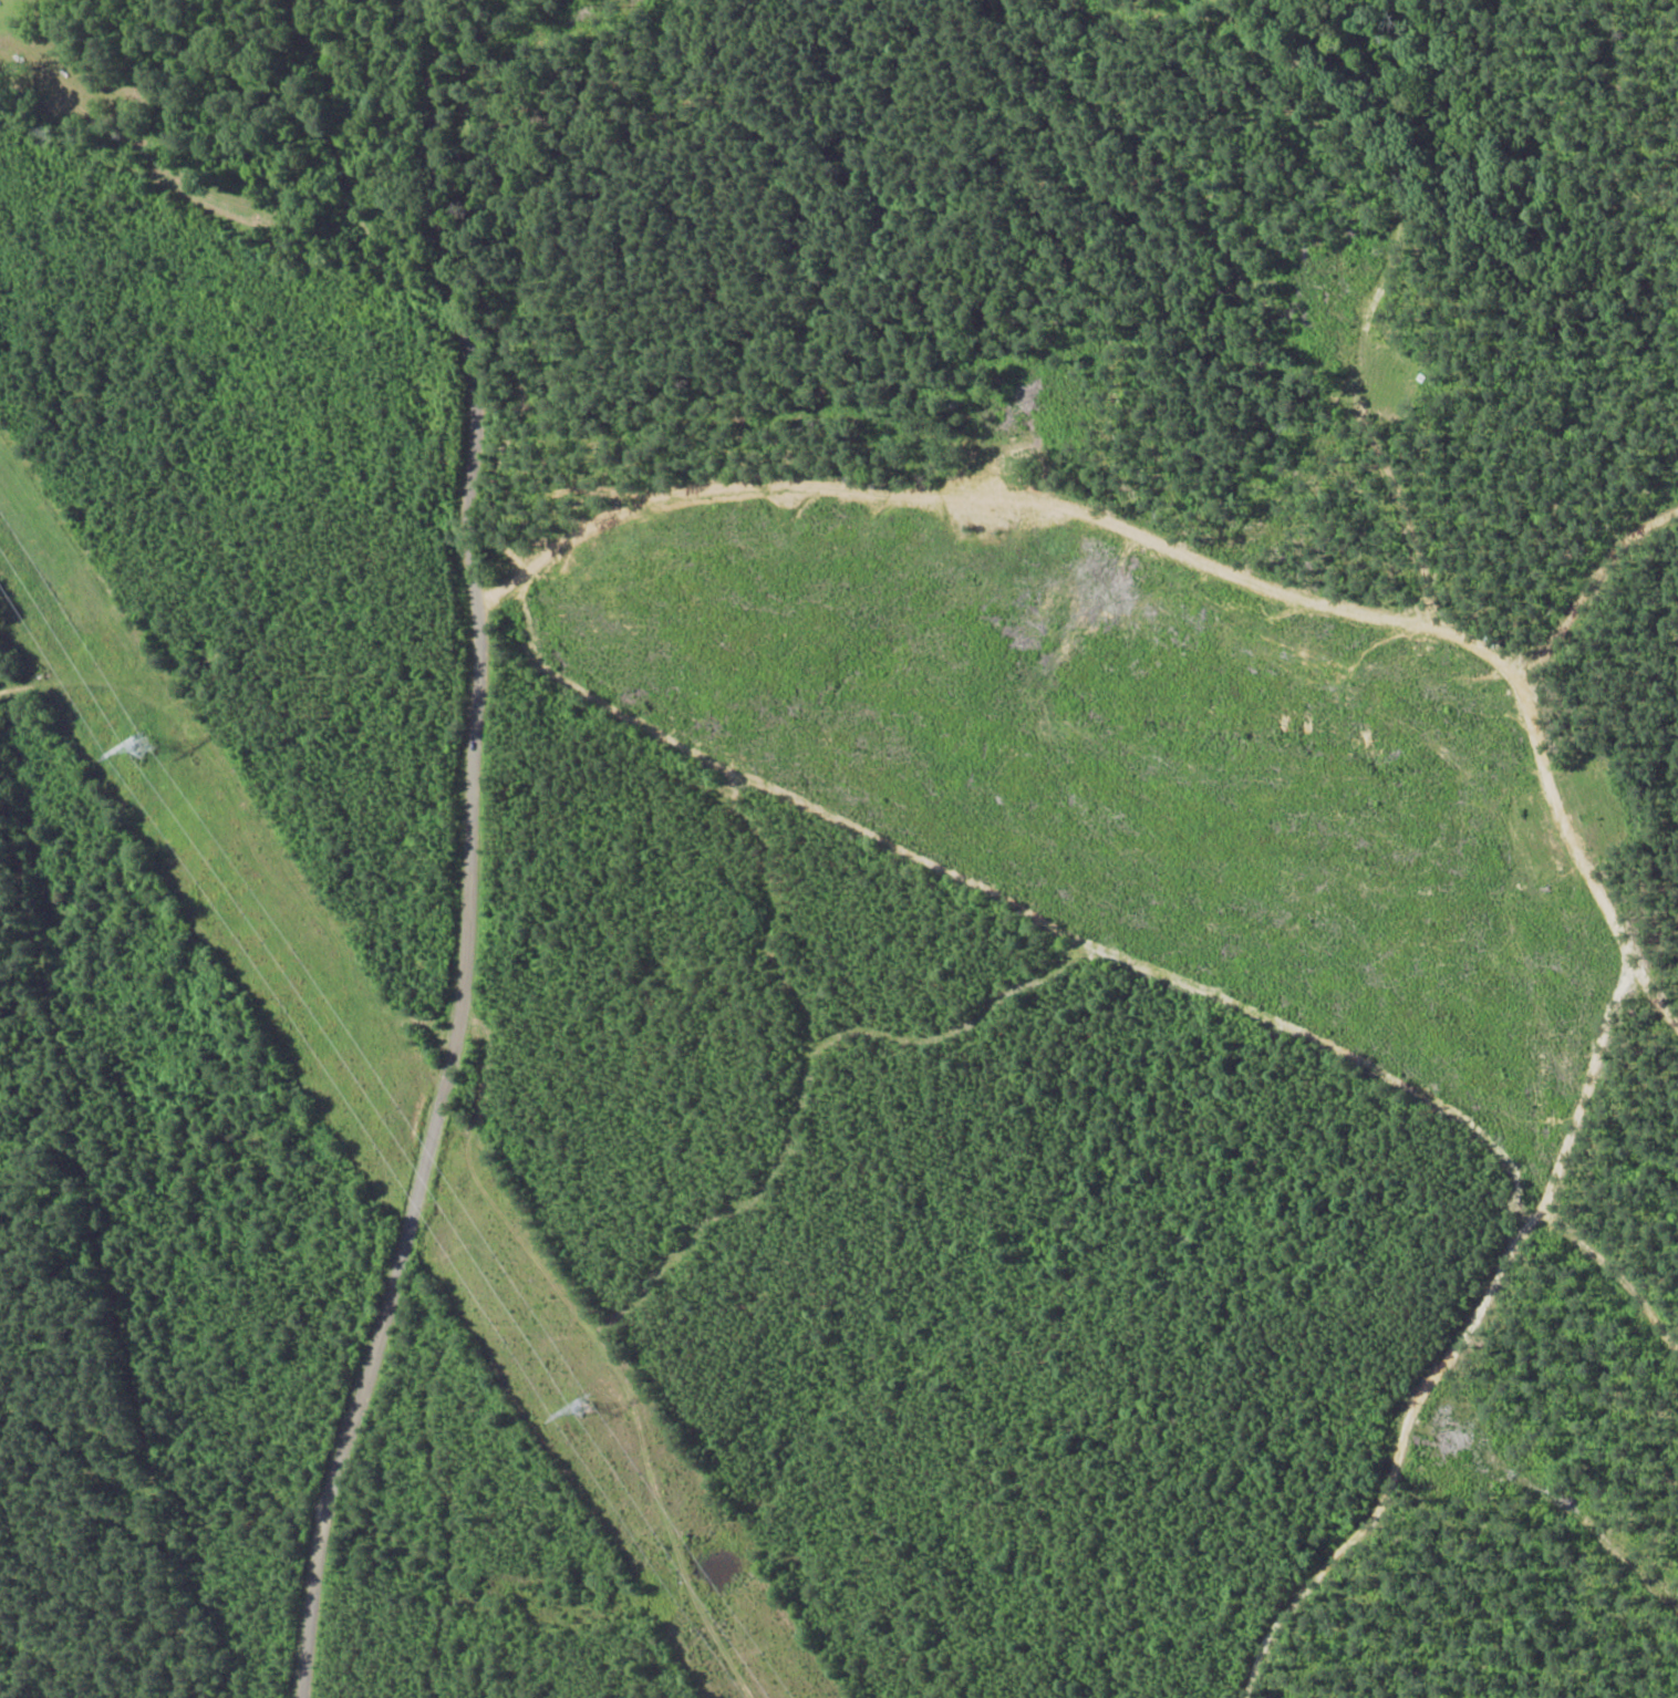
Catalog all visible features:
power tower: (146, 750)
road: (434, 857)
power tower: (583, 1411)

